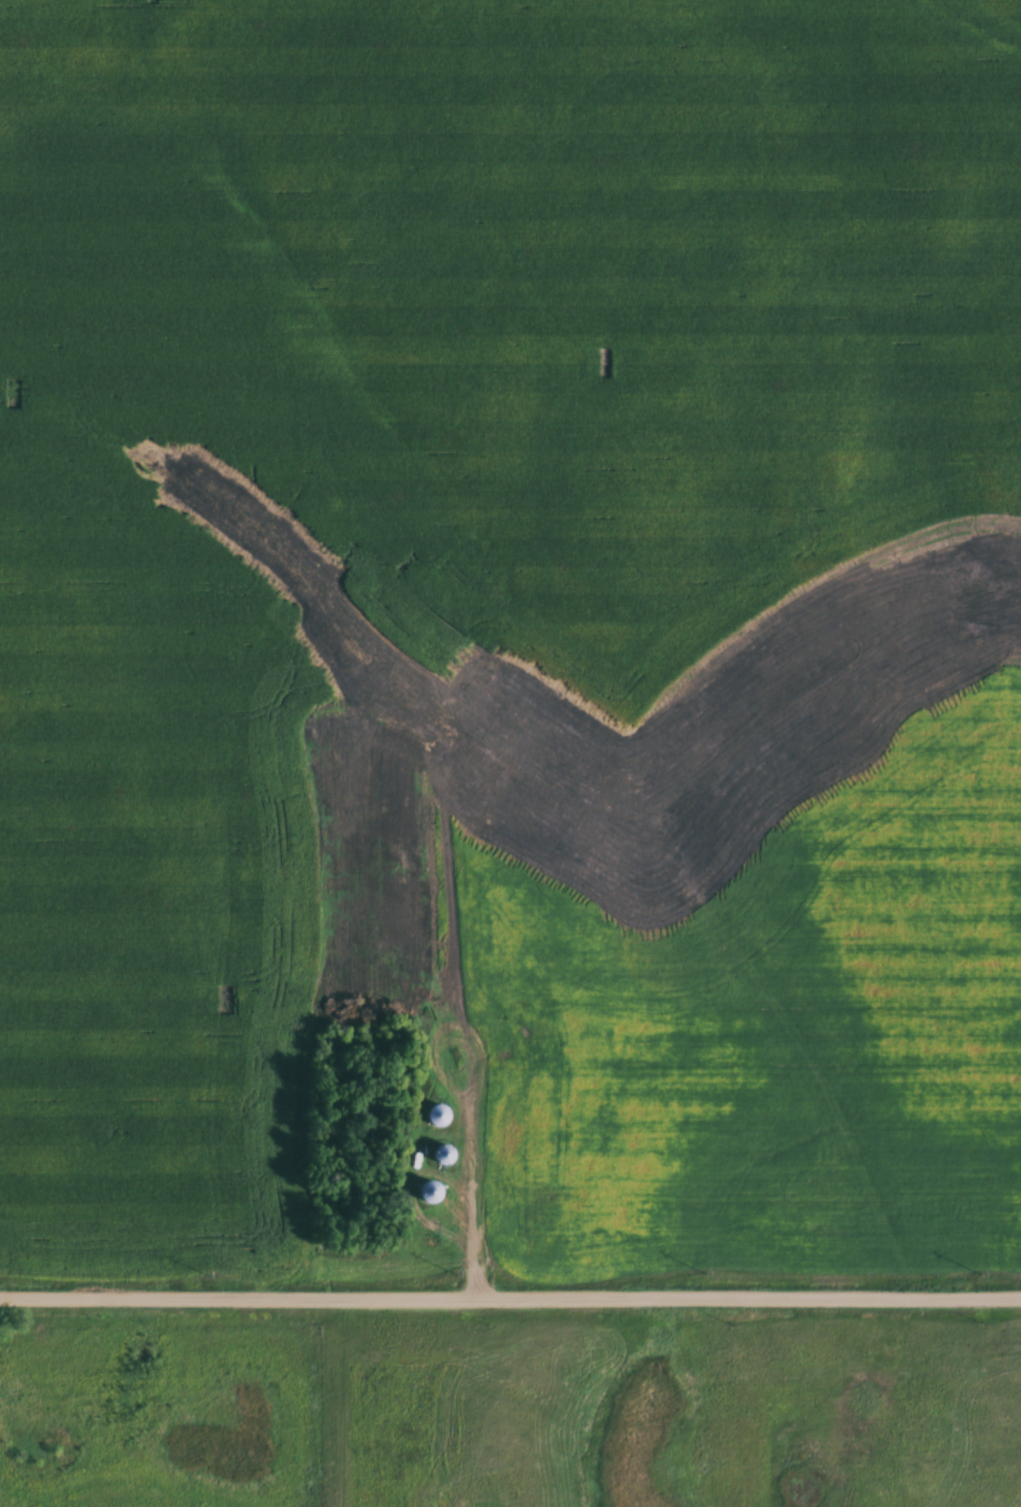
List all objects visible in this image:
building: (440, 1115)
building: (444, 1155)
road: (473, 1181)
building: (433, 1192)
road: (510, 1297)

